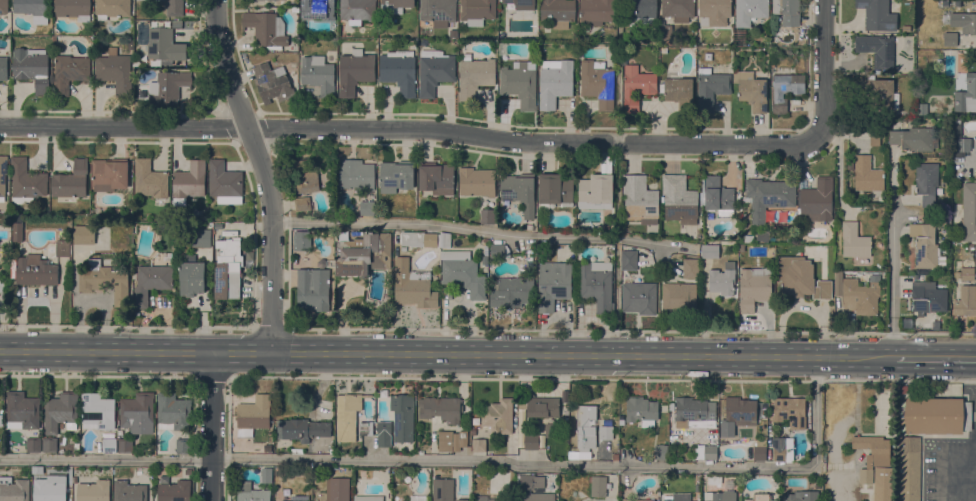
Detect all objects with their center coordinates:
building: (254, 0)
building: (921, 3)
building: (958, 3)
building: (521, 4)
building: (4, 6)
building: (395, 6)
building: (72, 8)
building: (112, 8)
building: (175, 8)
building: (318, 9)
building: (678, 9)
building: (34, 10)
building: (357, 11)
building: (439, 11)
building: (477, 11)
building: (642, 11)
building: (749, 11)
building: (787, 11)
building: (558, 12)
building: (596, 12)
building: (714, 12)
building: (877, 15)
building: (964, 21)
building: (906, 28)
building: (266, 29)
building: (666, 31)
building: (950, 39)
building: (667, 40)
building: (655, 41)
building: (164, 46)
building: (663, 50)
building: (877, 50)
building: (3, 68)
building: (32, 68)
building: (355, 71)
building: (399, 71)
building: (434, 71)
road: (825, 72)
building: (69, 73)
building: (115, 73)
building: (318, 75)
building: (474, 75)
building: (554, 82)
building: (272, 83)
building: (597, 83)
building: (519, 85)
building: (168, 87)
building: (636, 87)
building: (677, 88)
building: (710, 88)
building: (785, 90)
building: (751, 91)
building: (880, 92)
building: (966, 95)
building: (138, 105)
building: (922, 109)
road: (412, 128)
building: (914, 138)
building: (874, 139)
building: (958, 140)
road: (263, 172)
building: (356, 174)
building: (108, 175)
building: (867, 175)
building: (3, 176)
building: (304, 176)
building: (395, 176)
building: (436, 178)
building: (223, 180)
building: (26, 181)
building: (71, 181)
building: (150, 181)
building: (189, 182)
building: (476, 182)
building: (926, 182)
building: (555, 190)
building: (595, 192)
building: (519, 193)
building: (718, 197)
building: (768, 197)
building: (640, 200)
building: (679, 200)
building: (817, 200)
building: (332, 201)
building: (302, 203)
building: (367, 208)
building: (969, 212)
building: (487, 216)
building: (944, 221)
building: (529, 227)
road: (472, 231)
building: (17, 232)
building: (83, 234)
building: (761, 236)
building: (200, 238)
building: (300, 238)
building: (419, 239)
building: (445, 240)
building: (854, 241)
building: (924, 245)
building: (62, 248)
building: (486, 250)
building: (498, 251)
building: (709, 251)
building: (363, 254)
building: (628, 260)
building: (330, 263)
building: (690, 268)
building: (227, 269)
building: (35, 271)
building: (462, 272)
road: (892, 274)
building: (965, 274)
building: (191, 276)
building: (152, 278)
building: (723, 279)
building: (800, 279)
building: (104, 281)
building: (553, 284)
building: (596, 284)
building: (3, 286)
building: (412, 286)
building: (754, 287)
building: (313, 289)
building: (510, 291)
building: (857, 295)
building: (927, 297)
building: (639, 298)
building: (679, 298)
building: (965, 301)
road: (105, 351)
road: (219, 352)
road: (241, 352)
road: (263, 352)
road: (579, 354)
road: (932, 357)
road: (97, 376)
road: (211, 377)
road: (602, 378)
building: (903, 389)
building: (440, 408)
building: (541, 409)
building: (694, 409)
building: (739, 409)
building: (137, 410)
building: (21, 411)
building: (641, 411)
building: (790, 411)
building: (60, 412)
building: (97, 412)
building: (173, 412)
building: (253, 415)
building: (347, 415)
building: (937, 415)
building: (498, 416)
building: (402, 417)
building: (0, 420)
road: (211, 426)
building: (365, 428)
building: (585, 428)
building: (301, 429)
building: (473, 432)
building: (549, 432)
building: (606, 432)
building: (383, 434)
building: (451, 441)
building: (531, 441)
building: (33, 445)
building: (49, 445)
building: (109, 445)
building: (125, 445)
building: (478, 445)
building: (183, 446)
building: (779, 447)
building: (759, 450)
building: (660, 452)
building: (710, 452)
building: (872, 455)
building: (615, 457)
road: (105, 460)
road: (939, 460)
road: (569, 466)
building: (908, 469)
building: (69, 472)
building: (266, 475)
building: (714, 479)
building: (530, 482)
building: (883, 484)
building: (598, 486)
road: (841, 487)
building: (14, 489)
building: (339, 489)
building: (443, 490)
building: (49, 491)
building: (94, 491)
building: (129, 491)
building: (174, 491)
building: (251, 493)
building: (538, 496)
building: (721, 496)
building: (802, 496)
building: (678, 497)
building: (760, 497)
building: (368, 498)
building: (418, 498)
building: (480, 498)
building: (286, 500)
building: (635, 500)

